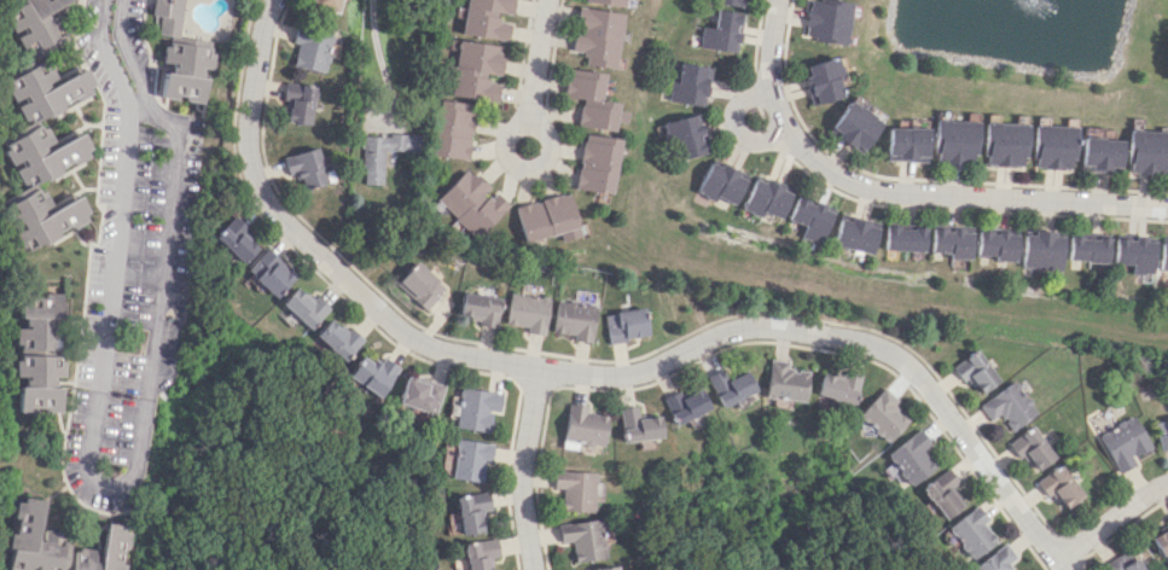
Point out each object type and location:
building: (606, 1)
building: (730, 2)
building: (325, 4)
building: (487, 18)
building: (172, 19)
building: (825, 21)
building: (34, 23)
building: (721, 31)
building: (595, 36)
building: (312, 48)
road: (377, 56)
road: (535, 60)
building: (473, 70)
building: (186, 71)
building: (821, 81)
building: (690, 85)
building: (46, 91)
building: (588, 99)
building: (298, 101)
road: (737, 124)
building: (855, 126)
building: (453, 129)
building: (687, 135)
road: (504, 138)
building: (954, 140)
building: (906, 144)
building: (1004, 144)
building: (1052, 146)
building: (1147, 151)
building: (1099, 152)
building: (43, 153)
building: (595, 162)
building: (306, 167)
building: (371, 168)
building: (724, 181)
road: (901, 190)
building: (768, 198)
building: (472, 203)
building: (45, 217)
building: (547, 217)
building: (812, 217)
building: (856, 234)
building: (906, 238)
building: (234, 239)
building: (953, 243)
building: (998, 245)
building: (1089, 249)
building: (1044, 250)
building: (1138, 254)
building: (1164, 255)
building: (271, 274)
building: (420, 285)
building: (303, 307)
building: (478, 308)
building: (527, 312)
building: (574, 319)
building: (623, 325)
building: (337, 338)
building: (39, 354)
road: (591, 372)
building: (977, 372)
building: (370, 373)
building: (786, 382)
building: (728, 385)
building: (838, 386)
building: (419, 394)
building: (684, 405)
building: (1009, 406)
building: (476, 408)
building: (883, 415)
building: (635, 424)
building: (582, 425)
building: (1162, 431)
building: (1123, 442)
building: (1033, 448)
building: (912, 456)
building: (470, 459)
road: (523, 467)
road: (117, 483)
building: (1062, 487)
building: (577, 489)
building: (942, 493)
building: (471, 511)
building: (1167, 518)
road: (1111, 519)
building: (971, 531)
building: (583, 539)
building: (35, 540)
building: (1161, 541)
building: (104, 551)
building: (480, 553)
building: (995, 559)
building: (1125, 562)
building: (605, 568)

